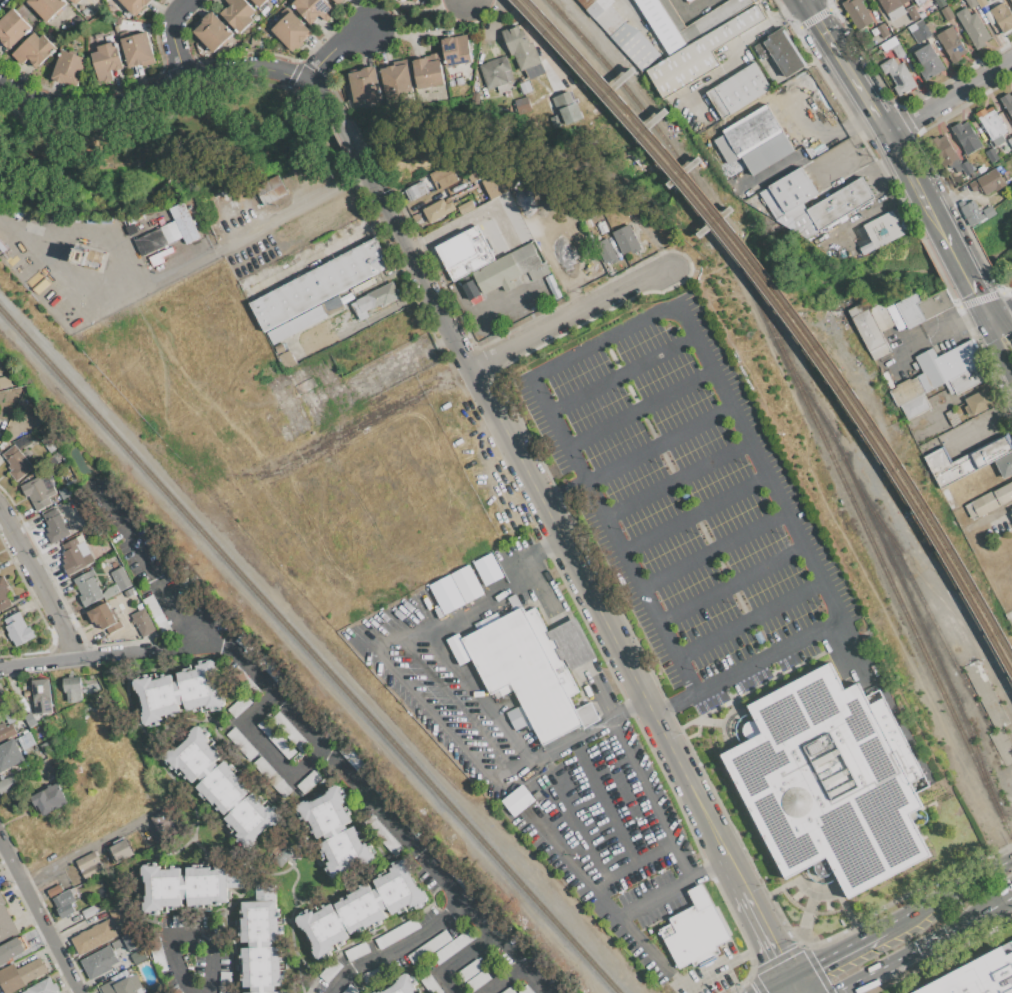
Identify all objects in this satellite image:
building: (71, 0)
building: (415, 0)
building: (688, 0)
building: (75, 1)
building: (337, 1)
building: (917, 1)
building: (996, 1)
building: (1011, 1)
building: (259, 2)
building: (983, 2)
building: (940, 3)
building: (971, 3)
building: (135, 4)
building: (889, 5)
building: (405, 6)
building: (47, 7)
building: (313, 9)
road: (687, 9)
building: (87, 12)
building: (857, 13)
building: (127, 14)
building: (239, 14)
building: (947, 14)
building: (276, 15)
road: (418, 15)
building: (909, 17)
building: (1000, 18)
building: (78, 19)
building: (117, 21)
building: (12, 28)
building: (973, 28)
building: (290, 30)
building: (883, 30)
building: (212, 31)
building: (621, 32)
building: (920, 33)
road: (173, 37)
railway: (583, 40)
building: (677, 40)
building: (255, 41)
building: (888, 43)
building: (951, 43)
building: (520, 47)
building: (34, 49)
building: (137, 49)
building: (456, 49)
road: (335, 50)
building: (898, 50)
building: (783, 51)
building: (701, 52)
road: (732, 53)
building: (107, 60)
building: (928, 61)
road: (844, 67)
building: (69, 68)
building: (428, 71)
building: (497, 74)
building: (898, 75)
building: (397, 80)
building: (460, 80)
road: (172, 84)
building: (364, 84)
building: (526, 87)
building: (738, 90)
building: (784, 91)
building: (771, 97)
road: (949, 97)
building: (521, 101)
building: (563, 101)
building: (1007, 102)
building: (990, 122)
road: (806, 131)
road: (346, 136)
building: (966, 137)
building: (1011, 139)
building: (754, 140)
building: (998, 140)
road: (811, 146)
building: (944, 151)
building: (991, 155)
building: (967, 168)
building: (982, 169)
road: (868, 172)
railway: (682, 176)
building: (444, 177)
building: (489, 180)
road: (913, 181)
building: (988, 182)
building: (271, 189)
building: (793, 189)
building: (416, 190)
building: (483, 196)
building: (3, 203)
building: (840, 203)
road: (888, 203)
building: (466, 207)
road: (297, 208)
building: (16, 210)
building: (438, 210)
building: (777, 211)
building: (976, 212)
building: (792, 213)
building: (415, 217)
building: (99, 220)
building: (164, 220)
building: (799, 221)
building: (184, 222)
building: (586, 223)
building: (132, 228)
building: (885, 229)
building: (808, 230)
building: (171, 232)
road: (525, 235)
building: (625, 239)
building: (150, 242)
road: (326, 248)
building: (608, 249)
building: (88, 257)
road: (958, 259)
building: (511, 269)
building: (550, 280)
building: (319, 284)
building: (470, 290)
traffic signals: (975, 290)
road: (105, 293)
building: (375, 299)
road: (979, 299)
building: (923, 306)
road: (999, 309)
railway: (792, 310)
road: (986, 311)
building: (107, 312)
building: (894, 316)
road: (570, 318)
railway: (786, 318)
building: (305, 320)
building: (885, 322)
building: (385, 323)
building: (407, 327)
road: (1000, 327)
building: (868, 330)
road: (942, 330)
traffic signals: (1006, 333)
road: (605, 342)
road: (995, 355)
building: (287, 360)
road: (621, 375)
building: (939, 376)
building: (5, 381)
road: (962, 395)
building: (979, 401)
road: (638, 408)
road: (980, 424)
building: (42, 432)
building: (23, 441)
building: (50, 443)
road: (658, 444)
building: (970, 461)
building: (17, 462)
road: (676, 480)
building: (69, 490)
building: (37, 492)
road: (562, 495)
building: (992, 499)
parking lot: (687, 506)
road: (544, 507)
building: (84, 509)
building: (1010, 511)
road: (694, 514)
building: (55, 526)
road: (546, 547)
road: (713, 549)
building: (76, 555)
railway: (878, 557)
road: (146, 559)
building: (485, 565)
railway: (896, 573)
building: (117, 582)
building: (467, 584)
road: (732, 585)
road: (38, 587)
building: (88, 588)
railway: (918, 593)
building: (3, 595)
building: (513, 601)
railway: (949, 609)
building: (158, 617)
building: (104, 618)
road: (750, 619)
building: (144, 621)
building: (17, 627)
building: (457, 649)
railway: (309, 651)
road: (102, 657)
road: (770, 658)
building: (534, 669)
building: (245, 680)
building: (72, 688)
building: (99, 688)
building: (177, 691)
building: (26, 692)
road: (419, 695)
road: (477, 695)
building: (41, 696)
building: (1, 699)
building: (239, 705)
road: (674, 706)
road: (627, 709)
building: (30, 719)
building: (6, 731)
building: (290, 732)
building: (276, 738)
building: (29, 739)
building: (22, 743)
building: (242, 743)
road: (265, 750)
building: (9, 754)
building: (78, 769)
building: (272, 777)
building: (309, 782)
building: (6, 784)
building: (827, 784)
building: (222, 786)
building: (48, 798)
building: (517, 800)
road: (611, 802)
road: (376, 808)
building: (165, 822)
road: (579, 830)
building: (335, 831)
building: (382, 834)
road: (82, 852)
building: (120, 852)
road: (657, 859)
road: (683, 865)
building: (88, 866)
road: (710, 870)
building: (187, 885)
building: (54, 889)
road: (947, 891)
road: (653, 901)
building: (64, 902)
building: (359, 908)
building: (89, 911)
building: (117, 911)
road: (39, 916)
road: (759, 917)
building: (184, 920)
building: (6, 925)
road: (952, 927)
building: (222, 932)
building: (397, 932)
building: (695, 932)
road: (627, 934)
building: (94, 936)
road: (189, 938)
building: (131, 940)
building: (261, 941)
building: (454, 946)
road: (395, 947)
building: (429, 947)
building: (10, 950)
road: (835, 950)
building: (357, 951)
traffic signals: (778, 952)
building: (157, 954)
building: (123, 955)
building: (138, 956)
road: (455, 960)
traffic signals: (816, 960)
building: (99, 961)
road: (727, 963)
building: (330, 969)
building: (470, 971)
building: (376, 974)
building: (21, 975)
building: (978, 975)
road: (862, 976)
road: (503, 979)
building: (477, 981)
building: (225, 982)
road: (771, 983)
road: (794, 983)
building: (431, 984)
building: (122, 985)
building: (402, 986)
building: (42, 987)
building: (349, 989)
building: (527, 989)
building: (176, 990)
building: (508, 990)

